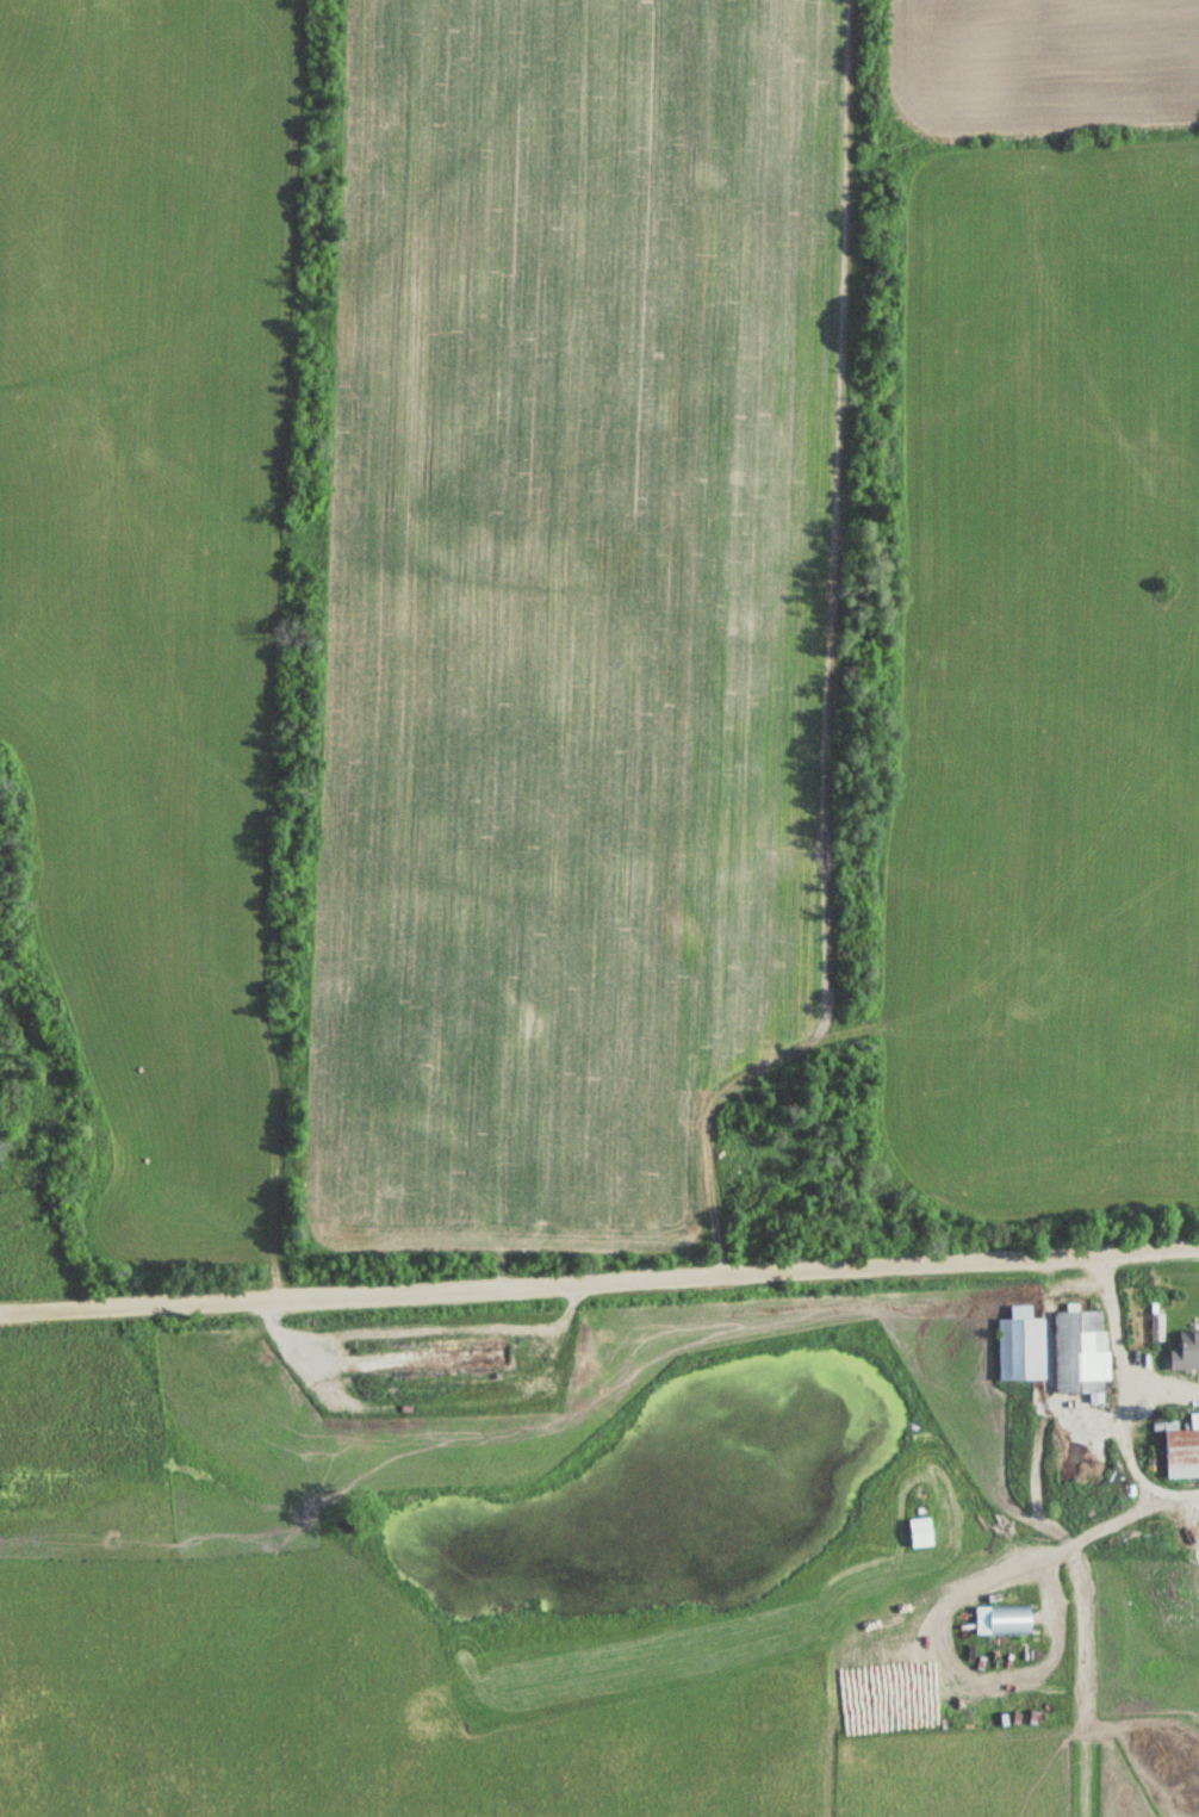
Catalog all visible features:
road: (582, 1317)
building: (1024, 1345)
building: (1182, 1351)
building: (1079, 1353)
building: (1180, 1451)
building: (918, 1533)
building: (1005, 1620)

